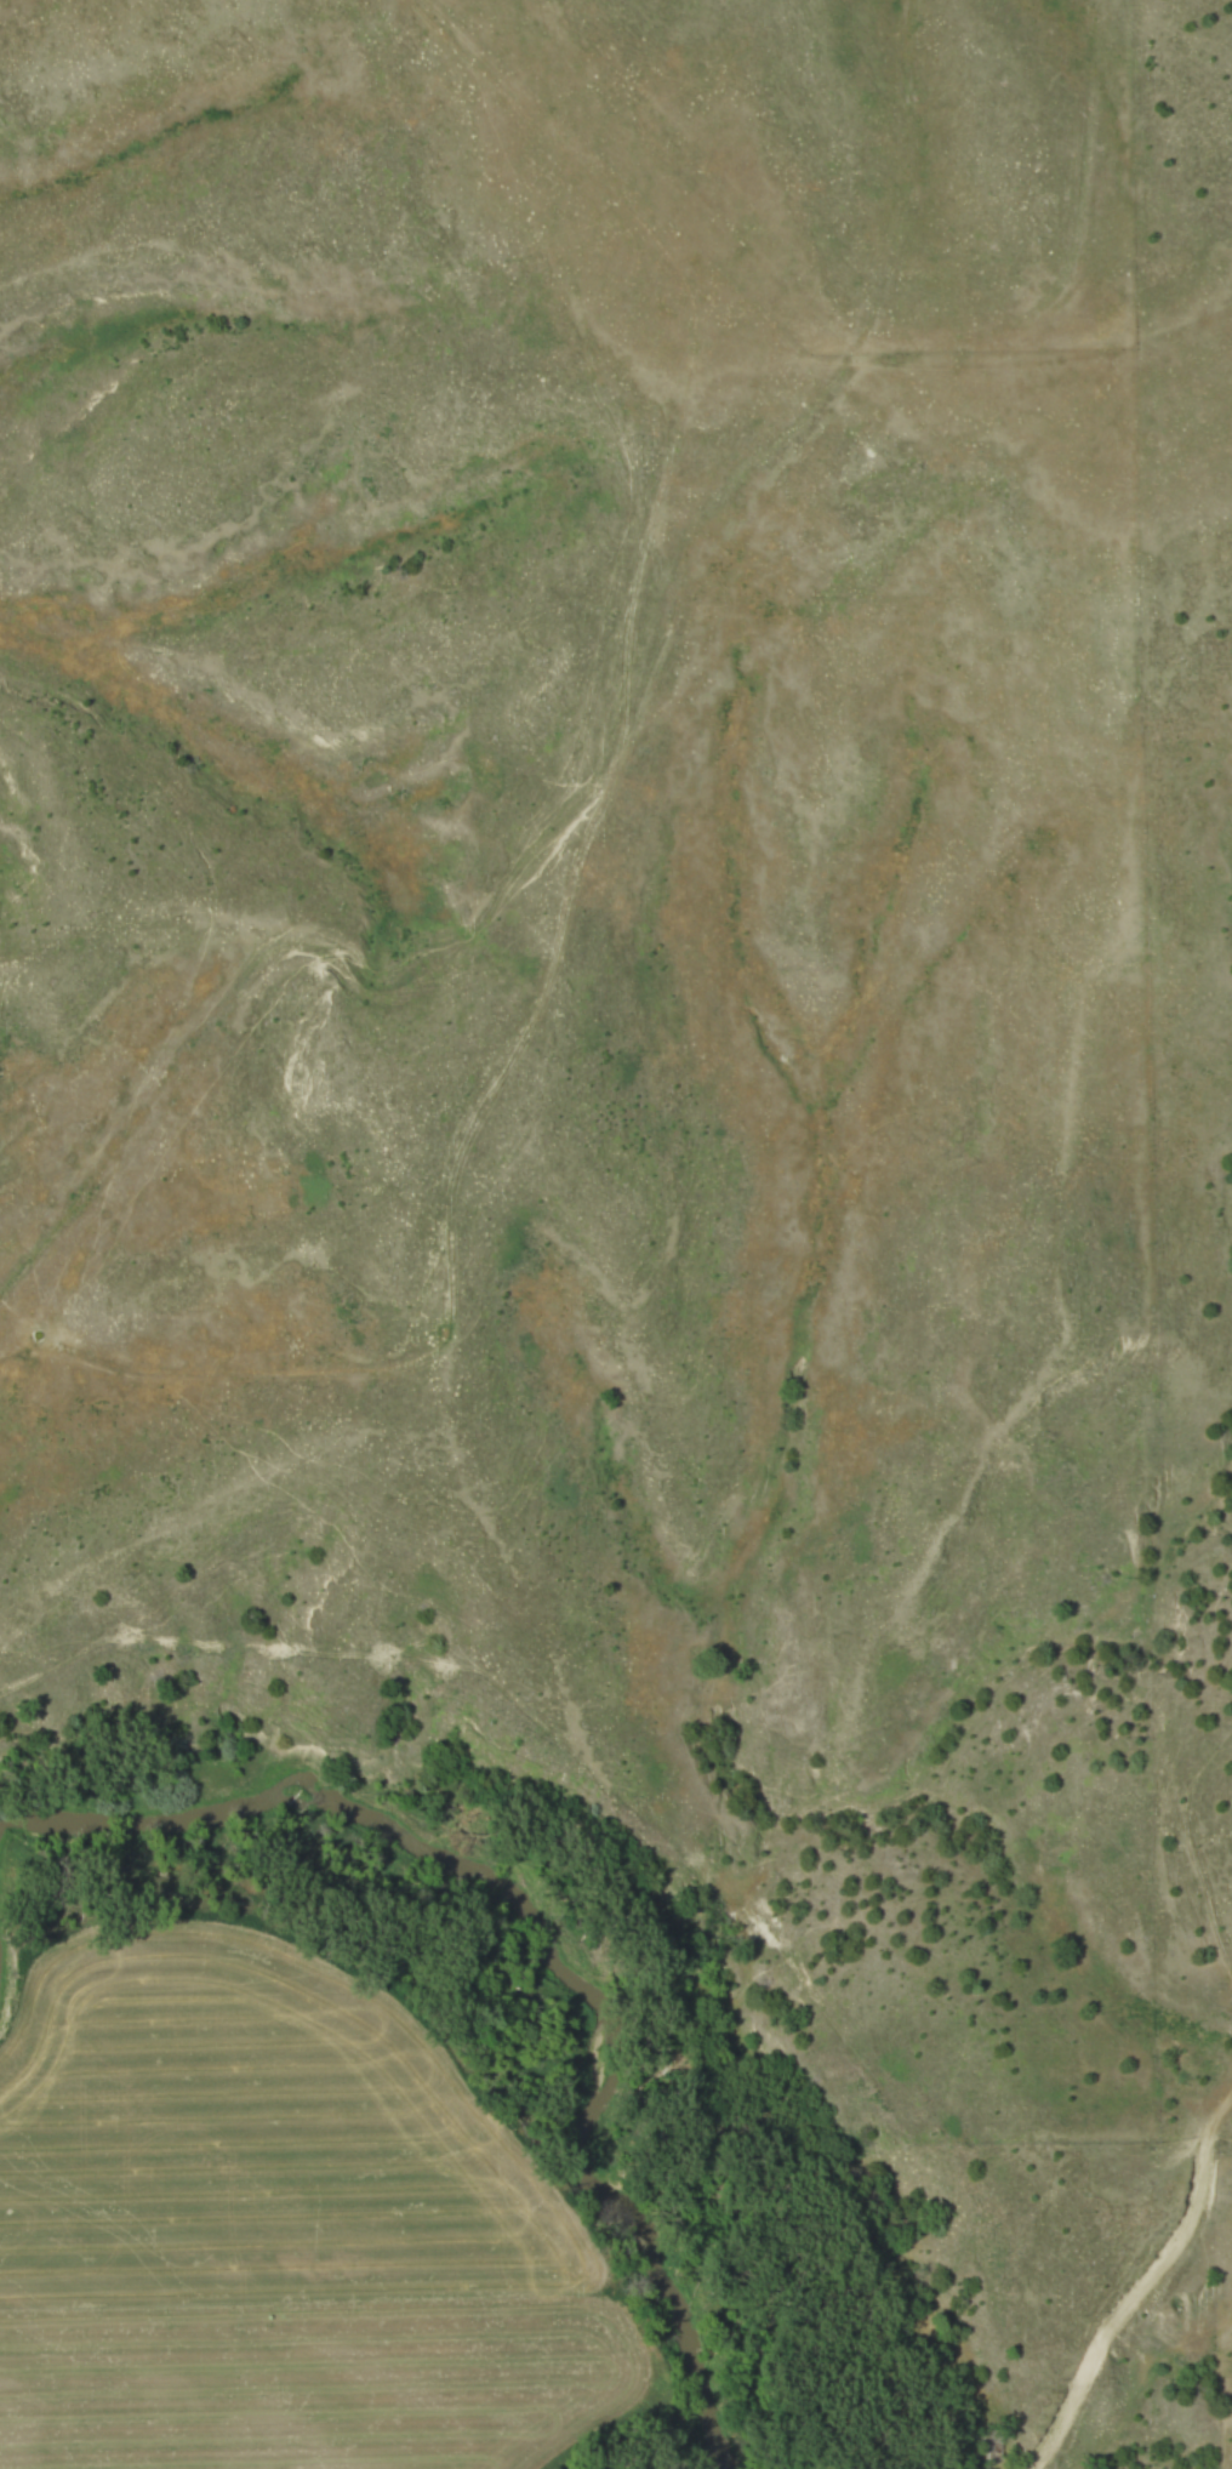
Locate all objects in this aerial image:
crop: (249, 2133)

